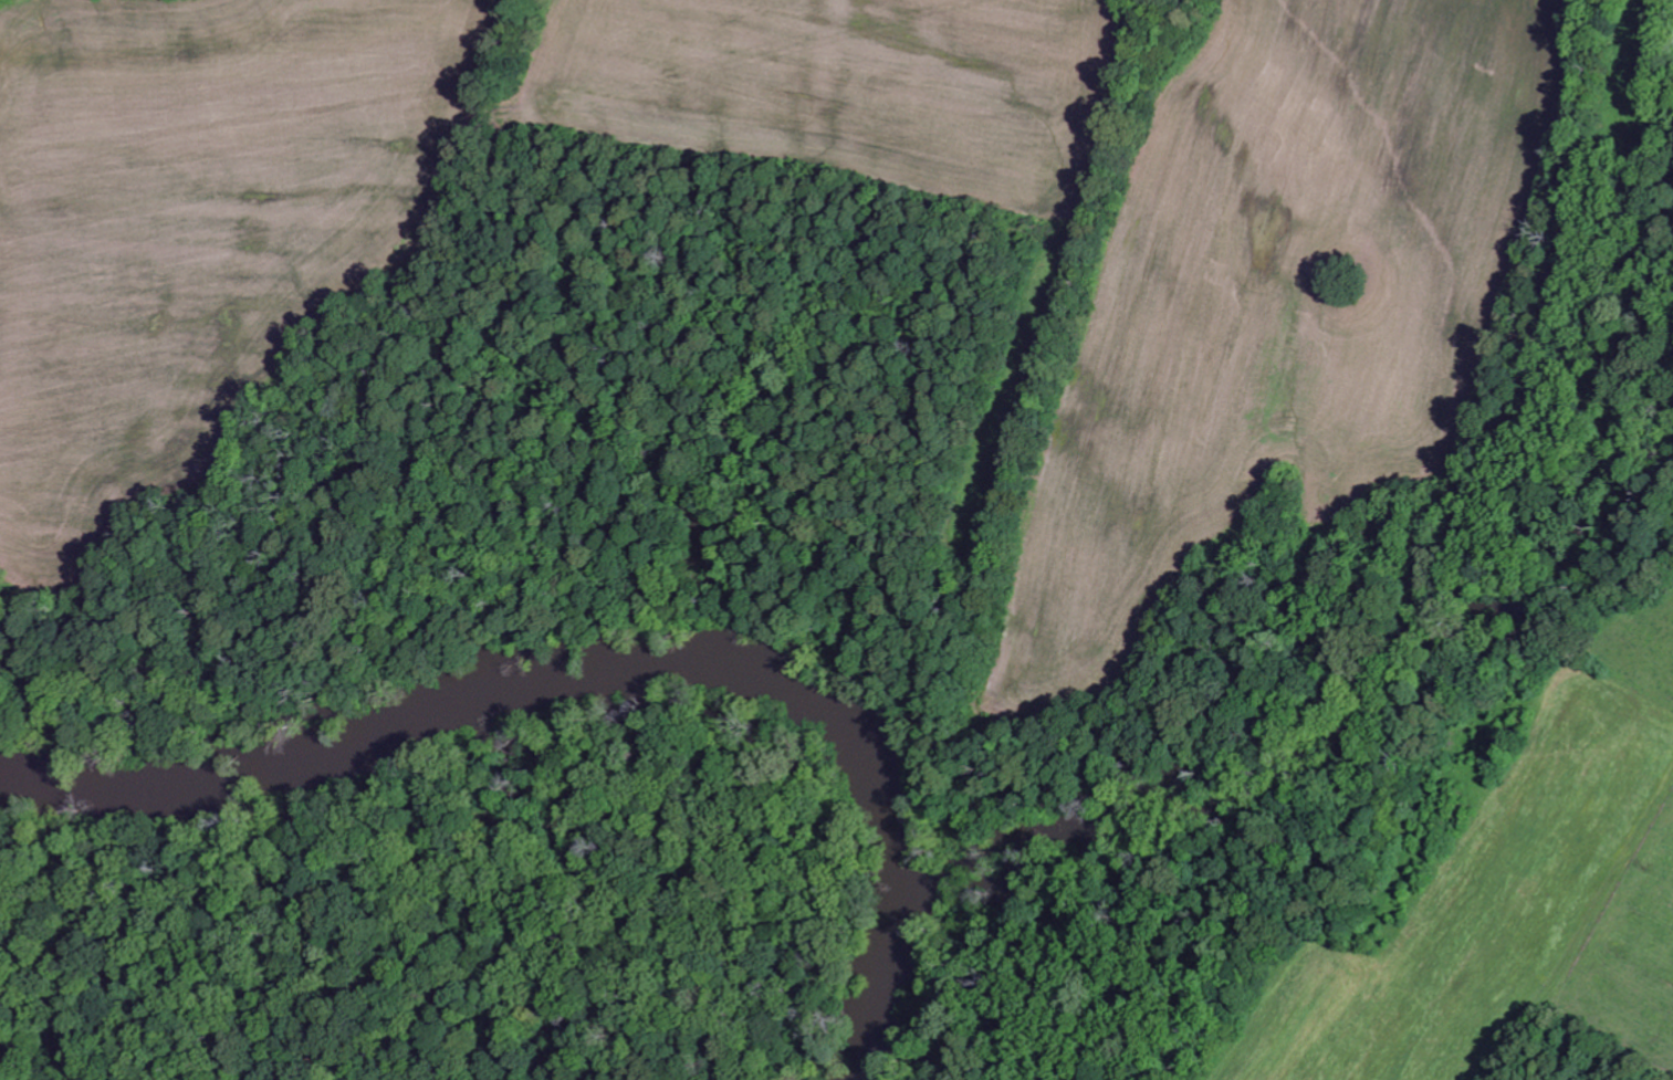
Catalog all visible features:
river: (619, 664)

